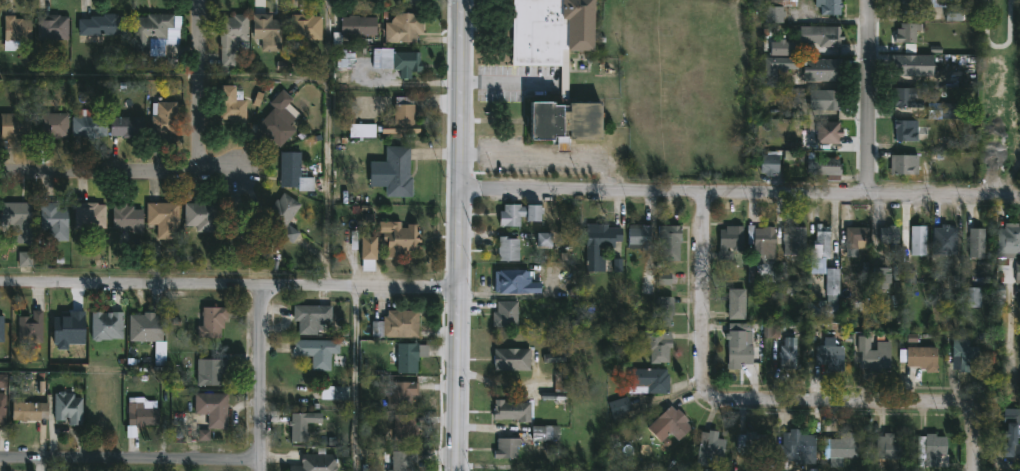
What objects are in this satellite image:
building: (903, 5)
building: (828, 6)
building: (775, 9)
building: (951, 13)
building: (100, 25)
building: (402, 27)
building: (353, 28)
building: (50, 29)
building: (303, 29)
building: (14, 31)
building: (147, 32)
building: (265, 32)
building: (906, 32)
building: (820, 35)
building: (229, 38)
road: (329, 44)
building: (783, 47)
building: (401, 63)
building: (778, 64)
building: (904, 64)
building: (343, 69)
building: (820, 69)
road: (264, 78)
road: (505, 82)
building: (563, 83)
road: (200, 85)
road: (871, 96)
building: (904, 96)
building: (829, 99)
building: (230, 104)
building: (943, 111)
building: (400, 117)
building: (161, 118)
building: (275, 120)
building: (51, 125)
building: (14, 126)
building: (125, 126)
building: (86, 127)
building: (361, 130)
building: (909, 130)
building: (827, 131)
road: (547, 158)
building: (768, 164)
building: (903, 164)
building: (825, 167)
road: (119, 170)
building: (293, 172)
building: (396, 172)
road: (739, 194)
building: (13, 214)
building: (199, 215)
building: (281, 215)
building: (509, 215)
building: (88, 216)
building: (161, 217)
building: (125, 218)
building: (52, 221)
building: (364, 222)
building: (242, 233)
building: (918, 234)
road: (459, 235)
building: (889, 236)
building: (637, 237)
building: (857, 237)
building: (976, 239)
building: (793, 240)
building: (944, 240)
building: (544, 241)
building: (729, 241)
building: (1008, 241)
building: (668, 242)
building: (820, 242)
building: (391, 243)
building: (598, 245)
building: (758, 247)
building: (507, 248)
building: (1017, 274)
building: (879, 278)
building: (513, 282)
building: (647, 286)
road: (230, 287)
building: (828, 297)
building: (971, 297)
building: (736, 304)
building: (663, 311)
building: (504, 314)
building: (312, 317)
building: (212, 321)
building: (397, 324)
building: (106, 325)
building: (31, 327)
building: (2, 328)
building: (656, 345)
building: (737, 347)
building: (317, 351)
building: (787, 352)
building: (410, 355)
building: (872, 355)
building: (829, 357)
building: (922, 358)
building: (510, 359)
building: (963, 360)
building: (210, 370)
road: (262, 379)
road: (355, 379)
building: (3, 380)
building: (647, 381)
building: (558, 389)
building: (335, 391)
building: (402, 393)
road: (772, 406)
building: (68, 407)
building: (2, 408)
building: (213, 408)
building: (28, 409)
building: (512, 409)
building: (618, 410)
building: (143, 411)
building: (300, 425)
building: (668, 425)
building: (405, 429)
building: (543, 433)
building: (1010, 437)
building: (751, 442)
building: (796, 447)
building: (505, 448)
building: (708, 448)
building: (887, 448)
building: (841, 449)
building: (931, 452)
road: (131, 460)
building: (402, 460)
building: (317, 461)

